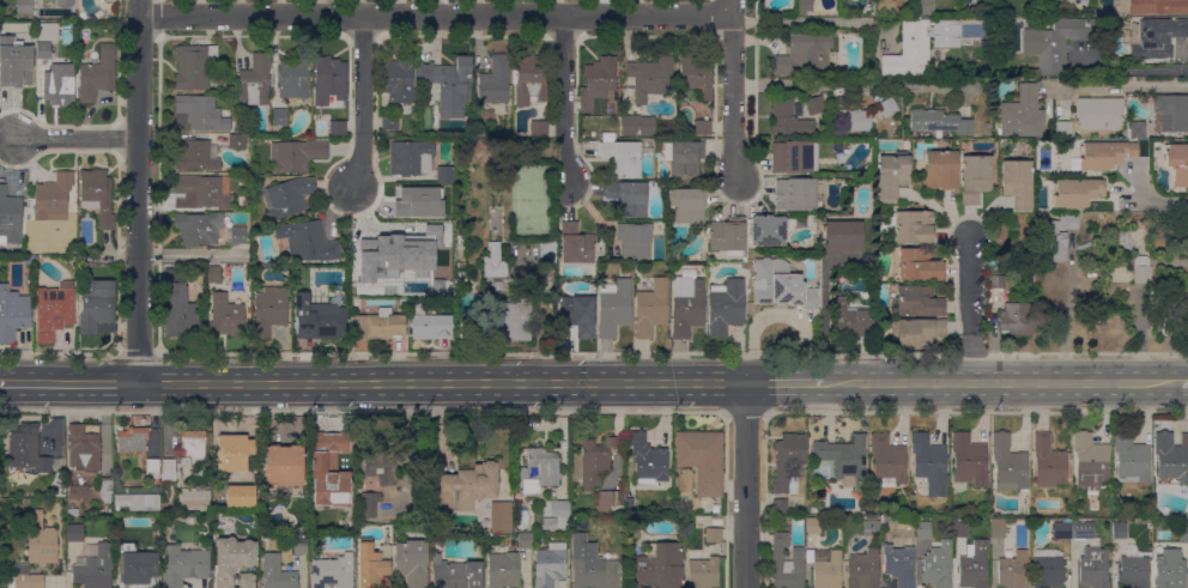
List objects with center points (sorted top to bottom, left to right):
building: (885, 5)
building: (24, 6)
building: (1157, 6)
building: (805, 7)
building: (926, 8)
building: (81, 13)
road: (436, 17)
road: (822, 23)
building: (4, 31)
building: (48, 31)
building: (945, 32)
building: (1158, 37)
building: (1056, 42)
building: (43, 50)
building: (910, 50)
building: (1081, 53)
building: (804, 54)
building: (194, 67)
building: (14, 69)
road: (1141, 69)
building: (97, 74)
building: (695, 75)
building: (295, 78)
building: (650, 78)
building: (531, 79)
building: (329, 80)
building: (399, 80)
building: (495, 80)
building: (255, 81)
building: (598, 81)
road: (853, 83)
building: (59, 84)
building: (449, 85)
road: (1126, 85)
road: (737, 90)
road: (563, 101)
road: (360, 104)
building: (816, 105)
building: (889, 109)
building: (202, 113)
building: (1170, 113)
building: (1020, 115)
building: (1099, 115)
building: (280, 117)
building: (789, 120)
building: (854, 120)
building: (389, 122)
building: (939, 122)
building: (637, 126)
building: (539, 128)
building: (703, 128)
building: (333, 129)
building: (1063, 129)
building: (1135, 129)
building: (390, 135)
road: (75, 138)
building: (237, 141)
building: (550, 152)
building: (296, 154)
building: (1104, 154)
building: (196, 156)
building: (622, 157)
building: (684, 157)
building: (795, 157)
building: (411, 158)
building: (1177, 163)
building: (941, 170)
building: (445, 175)
building: (892, 176)
building: (975, 177)
building: (1018, 183)
road: (138, 192)
building: (204, 192)
building: (401, 192)
building: (1075, 193)
building: (798, 195)
building: (98, 196)
building: (53, 198)
building: (287, 198)
building: (629, 198)
road: (1152, 202)
building: (687, 205)
building: (435, 208)
building: (10, 218)
building: (1095, 218)
building: (1068, 222)
building: (908, 226)
building: (199, 228)
building: (768, 230)
building: (237, 235)
building: (727, 236)
building: (842, 236)
building: (461, 237)
building: (1117, 237)
building: (634, 240)
building: (307, 242)
building: (1053, 242)
building: (1127, 243)
building: (576, 244)
building: (547, 251)
building: (394, 257)
building: (495, 262)
building: (744, 266)
building: (920, 266)
building: (1117, 272)
building: (1144, 272)
building: (213, 274)
building: (37, 280)
building: (998, 281)
building: (783, 283)
building: (916, 302)
building: (402, 303)
building: (366, 304)
building: (686, 304)
building: (97, 307)
building: (613, 307)
building: (726, 307)
building: (650, 309)
building: (51, 310)
building: (269, 310)
road: (970, 310)
building: (178, 313)
building: (13, 314)
building: (228, 315)
building: (578, 315)
building: (319, 319)
road: (824, 319)
building: (851, 320)
building: (1017, 320)
road: (1067, 322)
building: (505, 323)
building: (429, 325)
building: (378, 326)
building: (916, 333)
road: (784, 382)
road: (1000, 382)
road: (1182, 382)
road: (442, 383)
road: (68, 384)
building: (132, 438)
building: (26, 447)
building: (84, 448)
building: (193, 448)
building: (234, 451)
building: (1172, 455)
building: (843, 457)
building: (702, 459)
building: (889, 459)
building: (1131, 459)
building: (594, 460)
building: (648, 460)
building: (969, 460)
building: (789, 461)
building: (1048, 462)
building: (1090, 462)
building: (929, 463)
building: (1008, 465)
building: (284, 466)
building: (153, 467)
building: (378, 468)
building: (169, 469)
building: (329, 471)
building: (538, 471)
road: (745, 485)
building: (467, 486)
building: (105, 489)
building: (80, 492)
building: (0, 493)
building: (241, 496)
building: (195, 499)
building: (610, 501)
building: (138, 502)
building: (369, 504)
building: (629, 504)
building: (780, 507)
building: (715, 509)
building: (73, 513)
building: (556, 514)
building: (501, 517)
building: (716, 521)
building: (813, 526)
building: (871, 526)
building: (923, 527)
building: (998, 528)
building: (1062, 529)
building: (1120, 531)
building: (74, 533)
building: (1183, 534)
building: (713, 535)
building: (525, 541)
building: (41, 542)
building: (299, 544)
building: (1091, 557)
building: (972, 558)
building: (901, 560)
building: (234, 562)
building: (412, 562)
building: (786, 563)
building: (550, 564)
building: (183, 565)
building: (374, 565)
building: (592, 565)
building: (938, 565)
building: (93, 566)
building: (656, 566)
building: (135, 568)
building: (825, 568)
building: (1048, 568)
building: (863, 569)
building: (334, 570)
building: (503, 570)
building: (1013, 570)
building: (1169, 570)
building: (1134, 571)
building: (277, 572)
building: (703, 572)
building: (455, 574)
building: (25, 578)

